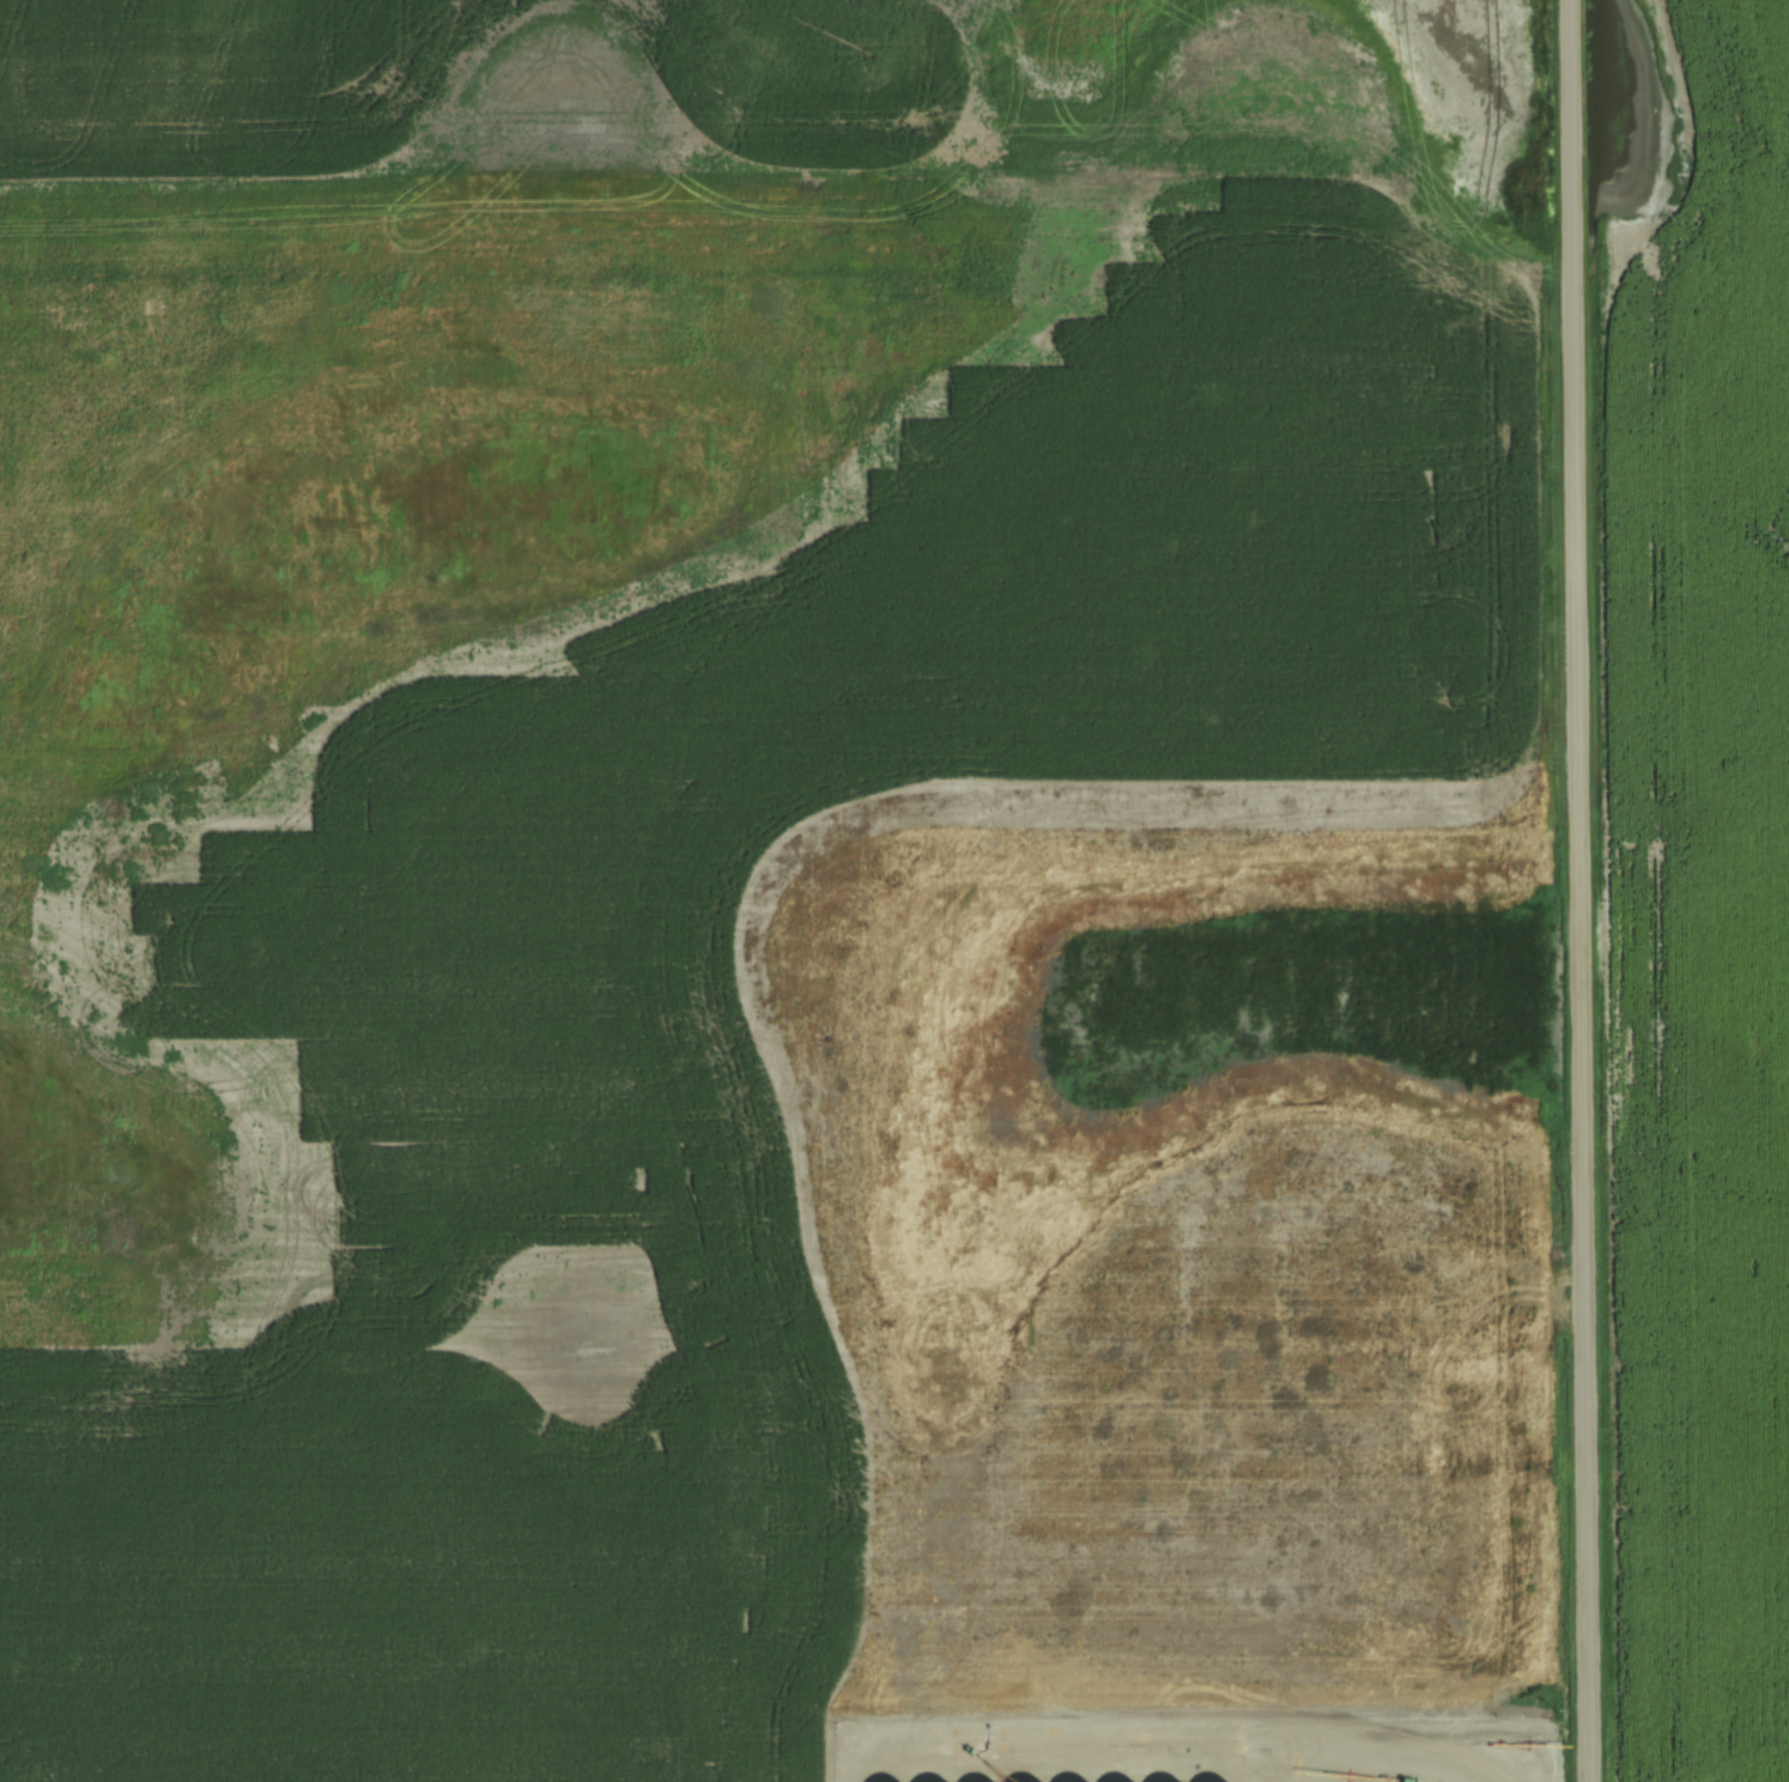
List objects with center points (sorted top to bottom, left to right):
road: (1575, 891)

